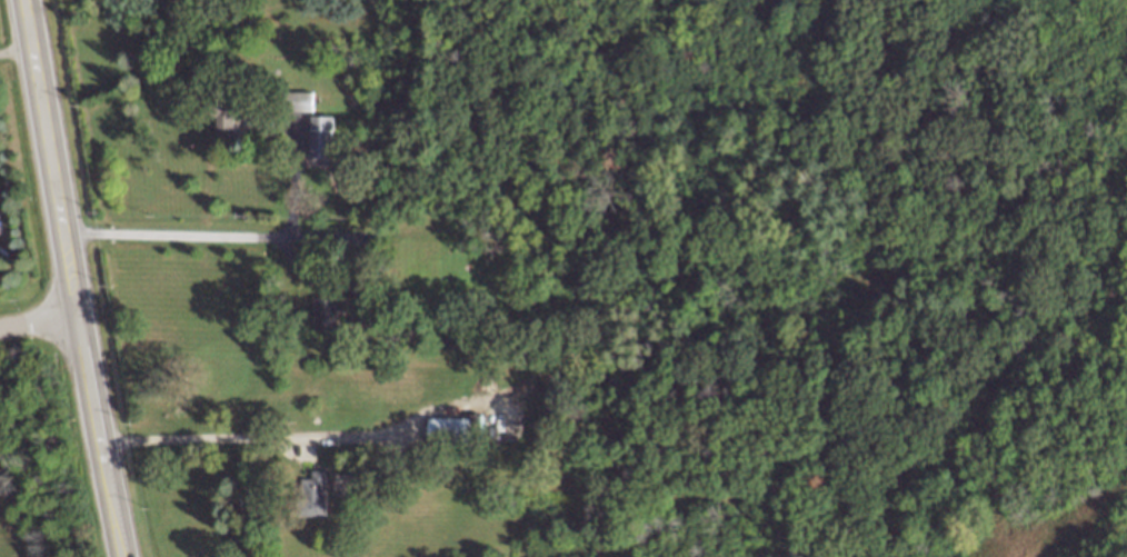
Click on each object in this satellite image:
road: (18, 50)
building: (303, 100)
building: (226, 123)
building: (321, 136)
road: (295, 180)
road: (63, 219)
road: (177, 232)
building: (0, 233)
road: (357, 276)
building: (327, 312)
road: (40, 321)
building: (455, 429)
road: (257, 437)
building: (315, 494)
road: (111, 498)

